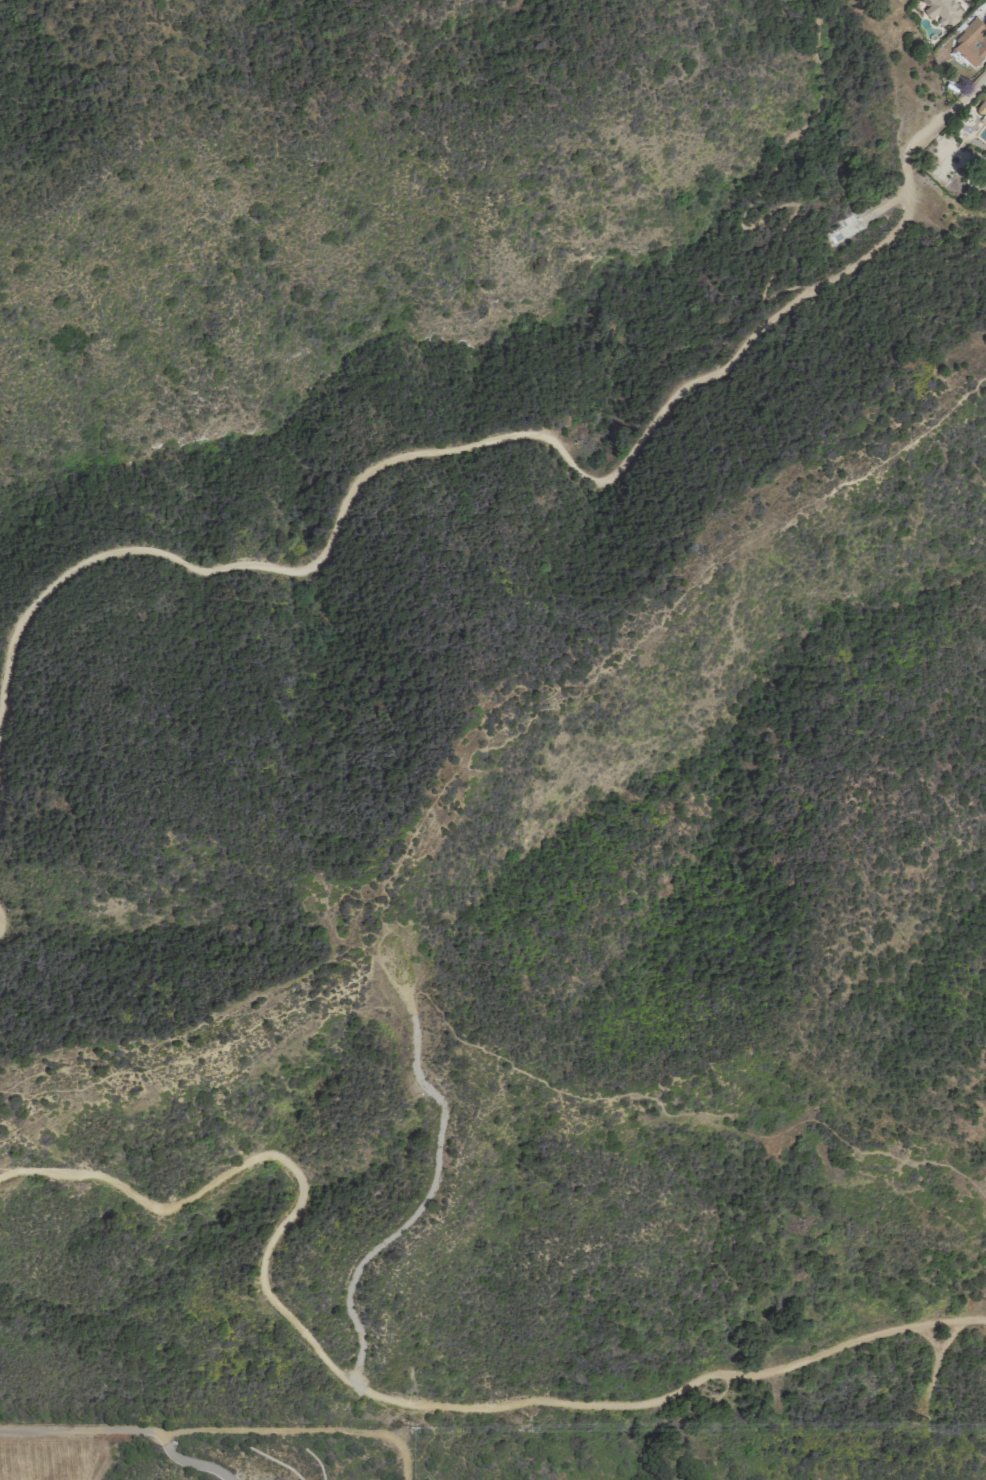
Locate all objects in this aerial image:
building: (942, 10)
building: (971, 42)
building: (982, 108)
road: (749, 207)
road: (522, 435)
building: (402, 975)
road: (416, 1209)
road: (936, 1365)
road: (381, 1398)
road: (123, 1432)
road: (293, 1433)

